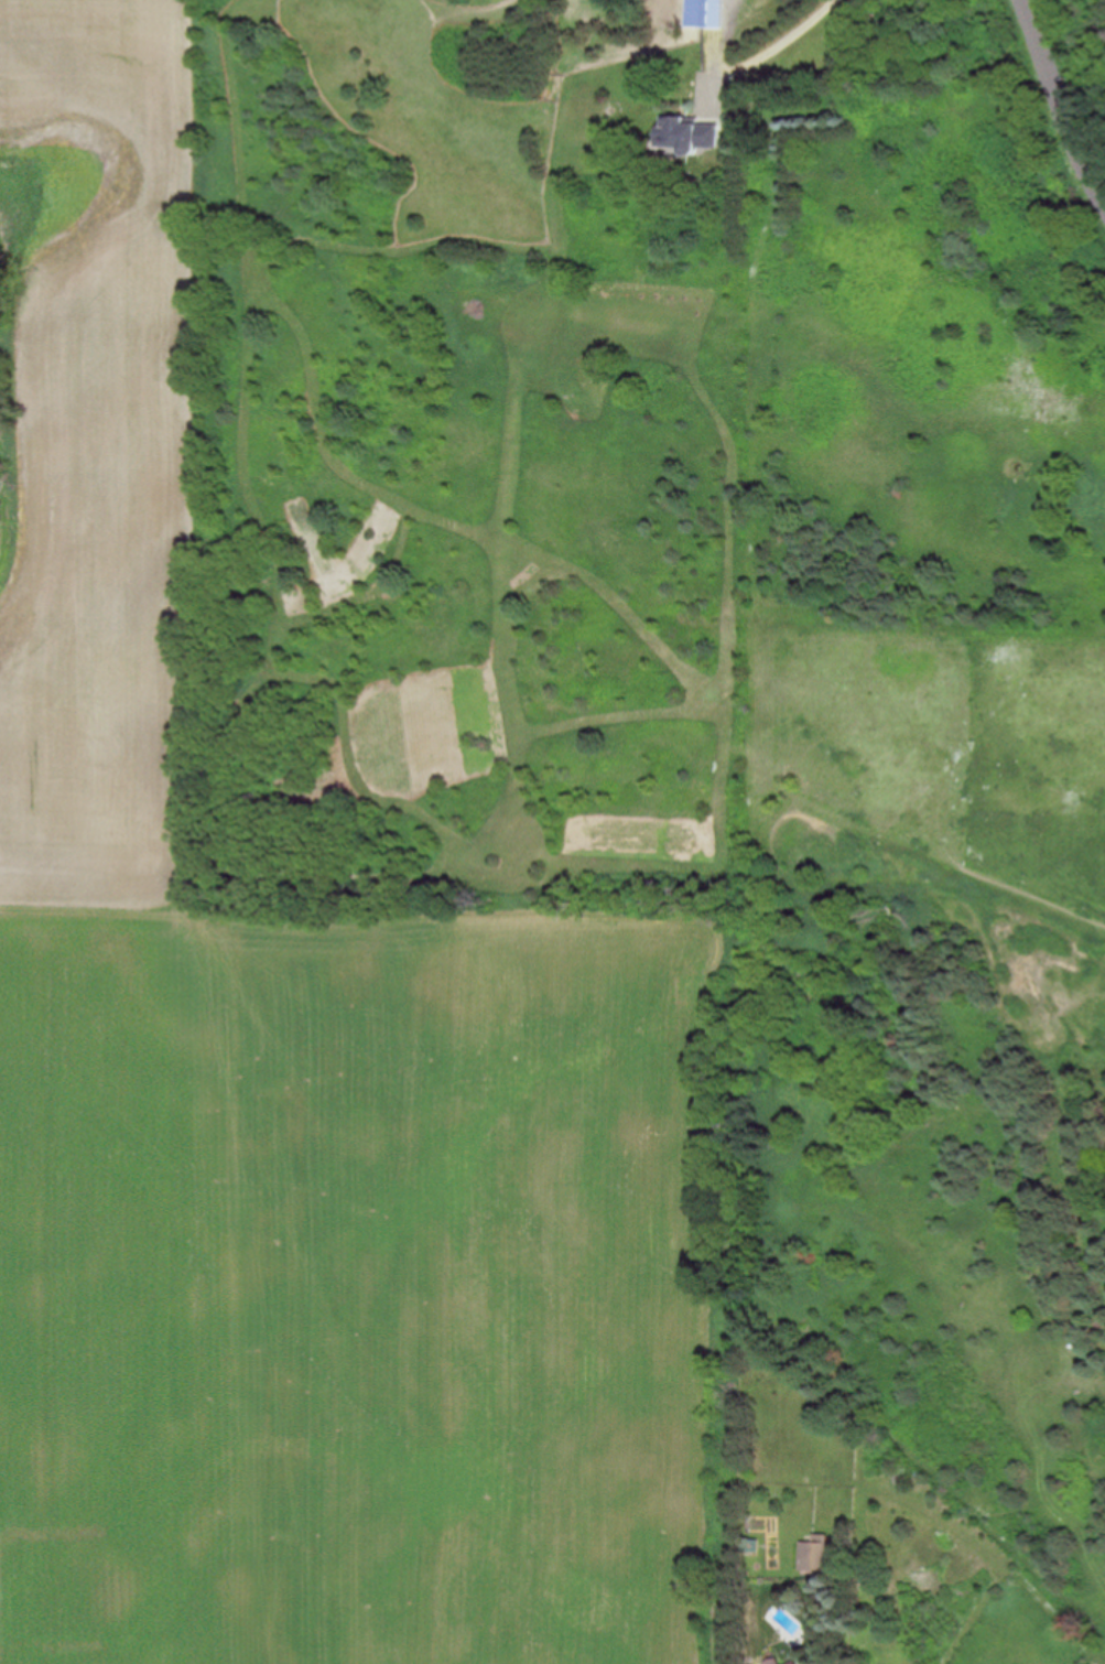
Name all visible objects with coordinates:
building: (712, 13)
road: (783, 36)
road: (1057, 102)
building: (685, 133)
park: (744, 889)
building: (813, 1554)
building: (772, 1661)

